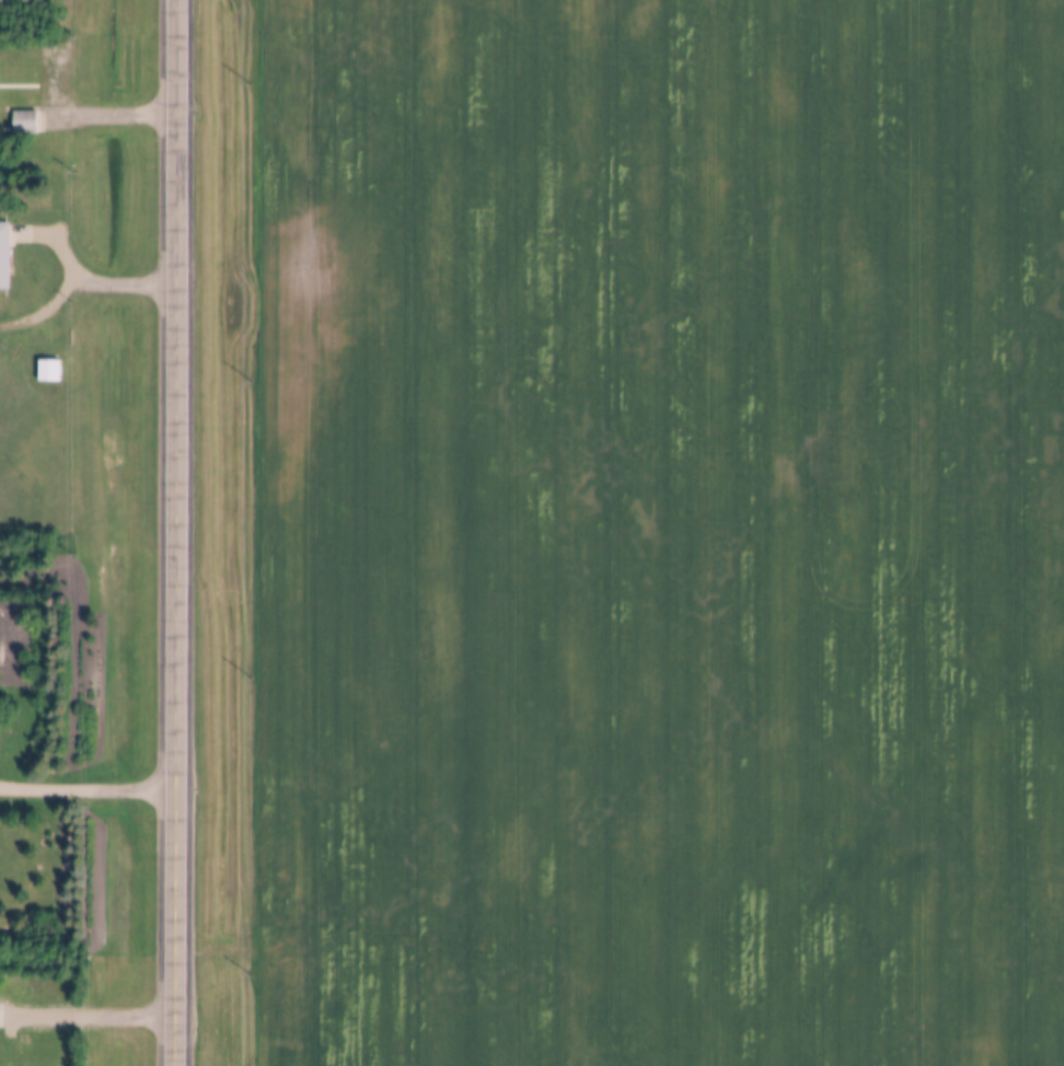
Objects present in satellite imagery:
road: (108, 116)
building: (24, 124)
building: (4, 257)
road: (80, 282)
building: (49, 371)
road: (173, 533)
road: (85, 786)
road: (86, 1015)

